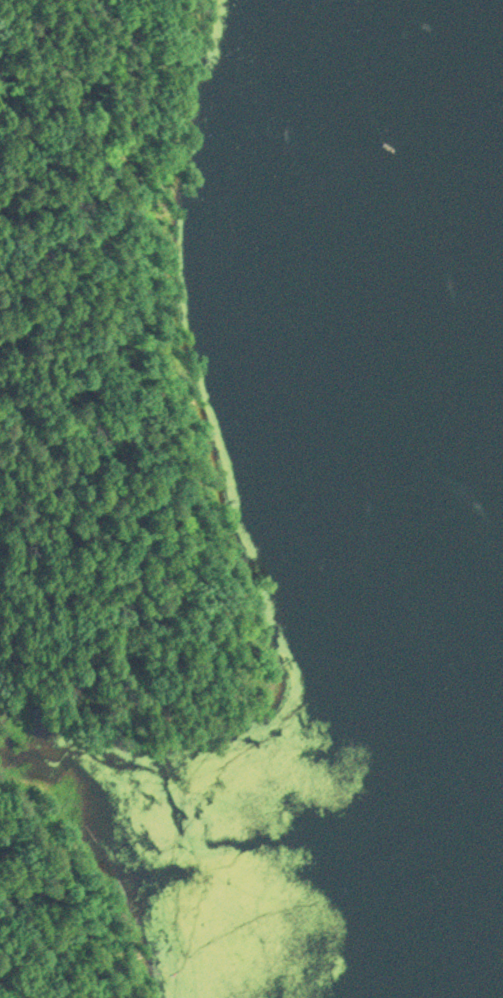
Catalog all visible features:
road: (67, 167)

